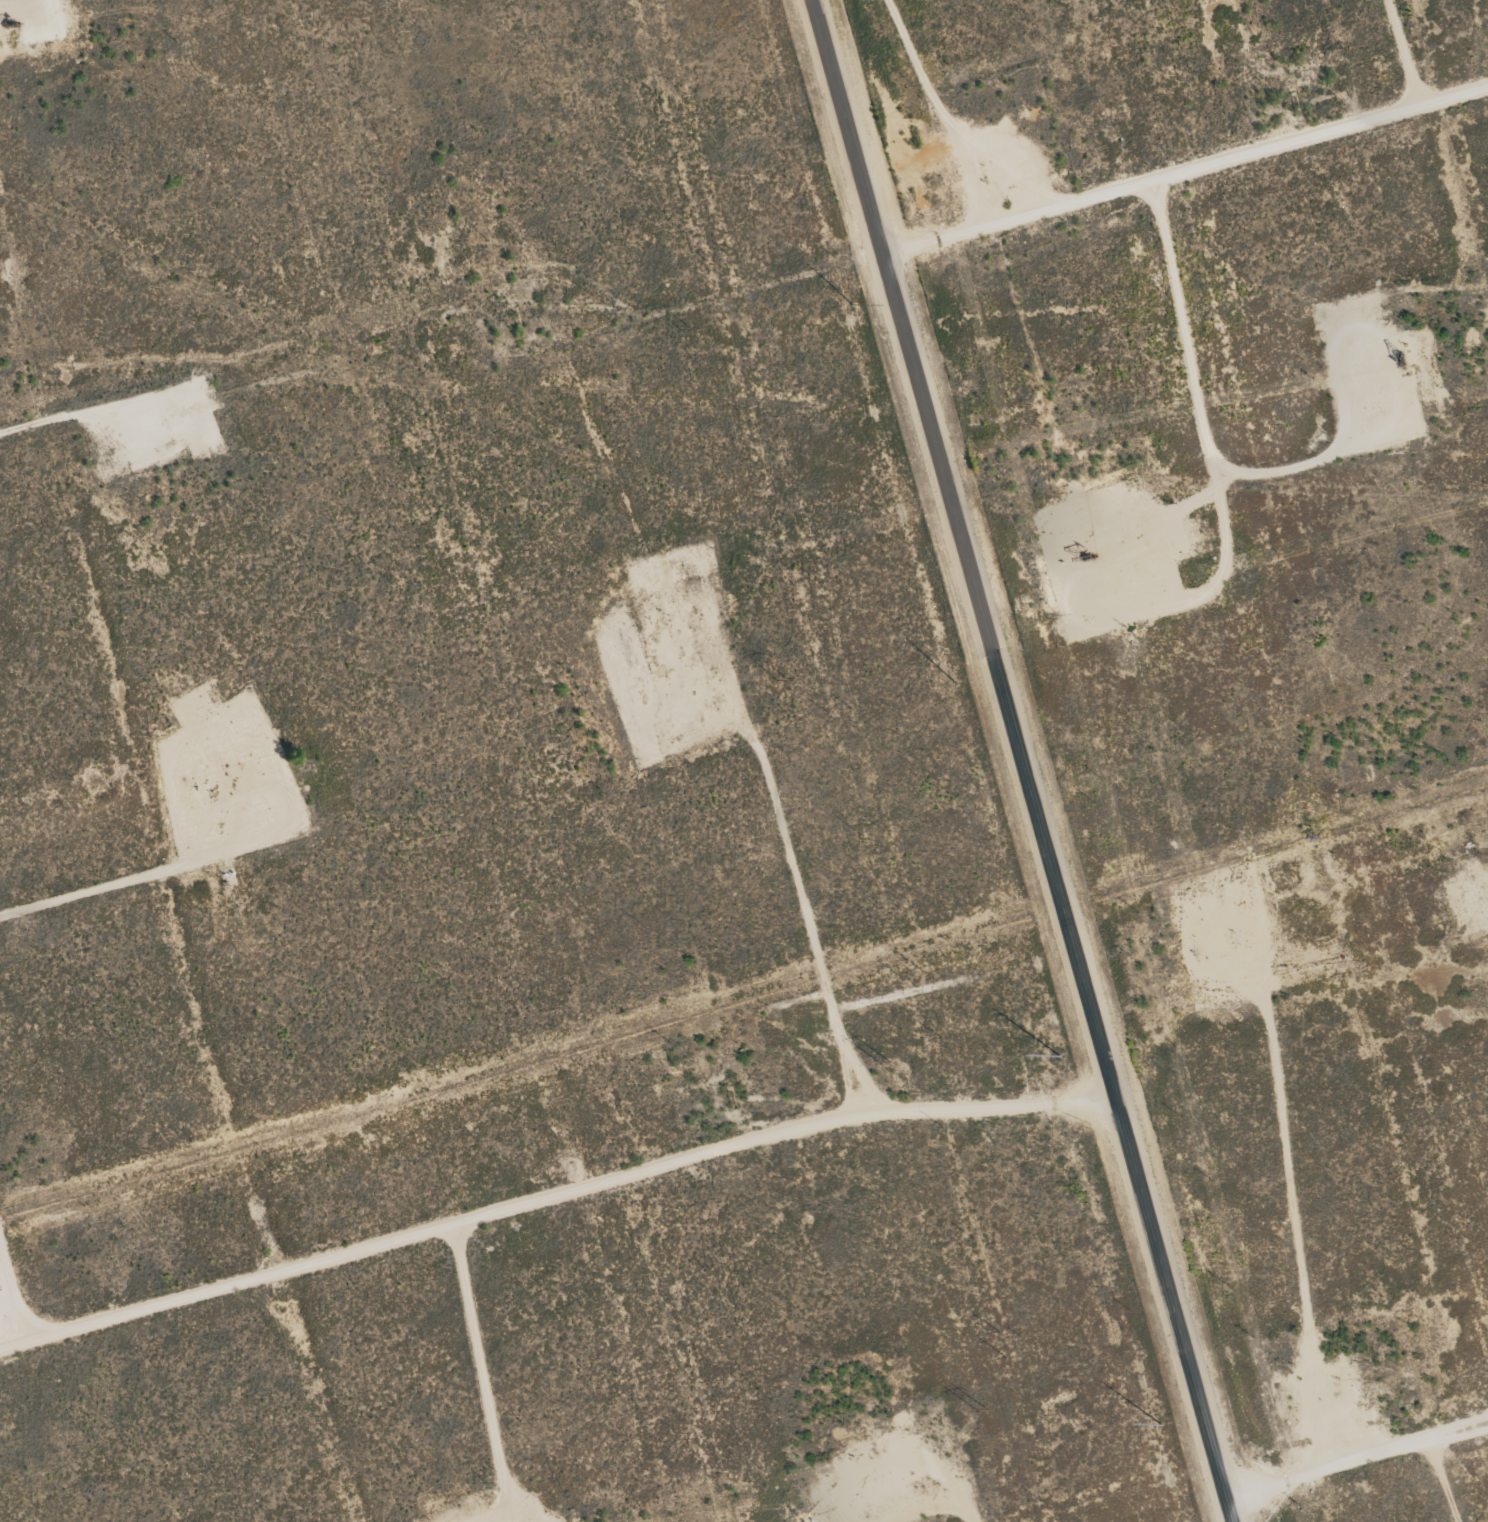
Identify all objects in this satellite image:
road: (1184, 169)
power tower: (683, 327)
petroleum well: (1082, 558)
power tower: (780, 678)
road: (1020, 760)
power tower: (887, 1062)
road: (553, 1194)
road: (14, 1287)
petroleum well: (1334, 1401)
power tower: (983, 1410)
petroleum well: (866, 1449)
road: (1355, 1457)

